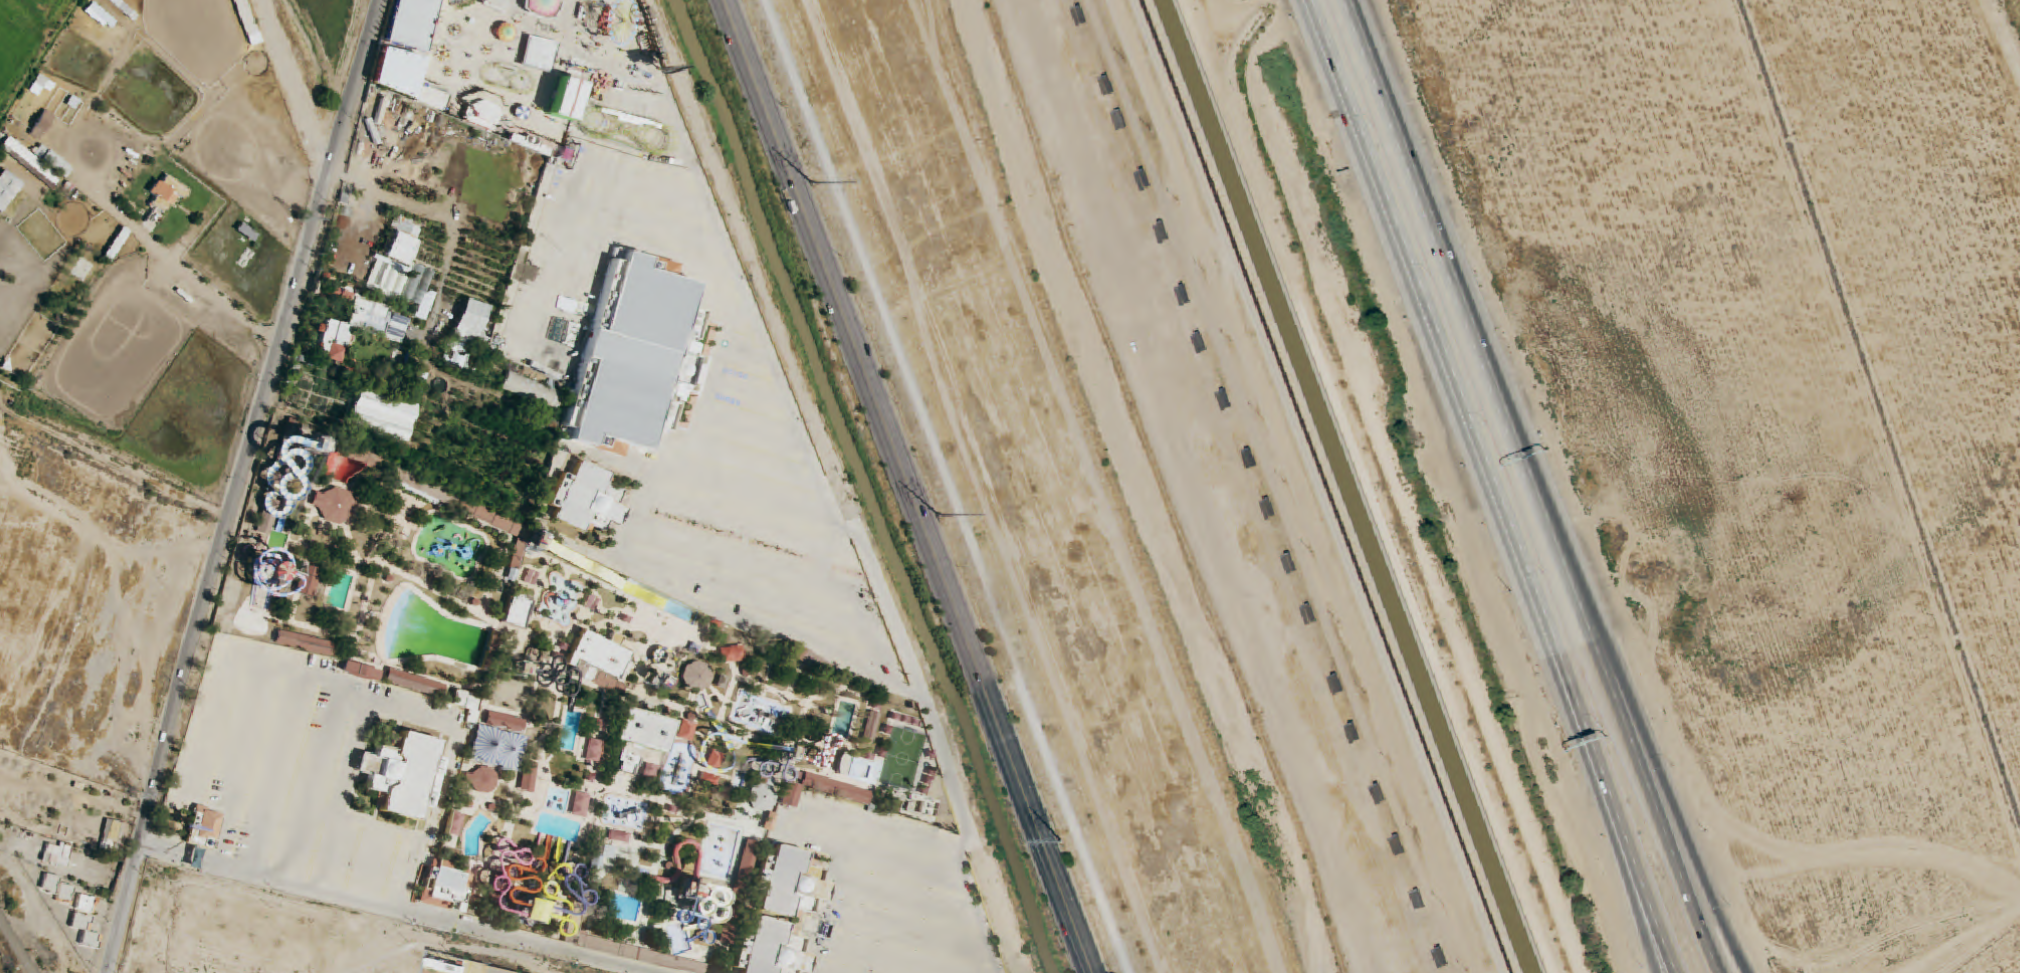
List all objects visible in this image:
building: (553, 16)
crop: (328, 24)
building: (409, 24)
road: (549, 36)
crop: (26, 40)
road: (295, 85)
road: (351, 85)
building: (564, 103)
power tower: (811, 181)
road: (578, 190)
road: (390, 197)
road: (357, 229)
road: (650, 229)
building: (247, 235)
road: (652, 255)
road: (168, 262)
building: (358, 312)
building: (471, 321)
building: (600, 345)
road: (745, 355)
road: (748, 393)
road: (751, 431)
road: (611, 460)
road: (112, 461)
road: (751, 465)
road: (908, 486)
road: (939, 486)
road: (1493, 486)
river: (1139, 487)
road: (1530, 487)
road: (747, 489)
road: (820, 491)
building: (588, 500)
power tower: (937, 514)
road: (738, 522)
road: (733, 554)
road: (212, 570)
road: (628, 571)
road: (748, 596)
road: (857, 602)
building: (515, 613)
road: (364, 697)
building: (503, 725)
road: (1645, 739)
road: (238, 765)
building: (624, 767)
road: (278, 776)
building: (400, 778)
road: (313, 786)
road: (342, 793)
building: (790, 798)
road: (366, 823)
road: (798, 835)
power tower: (1061, 840)
road: (372, 864)
road: (1633, 891)
road: (907, 897)
road: (393, 908)
road: (994, 908)
road: (825, 912)
building: (778, 916)
building: (523, 918)
road: (909, 933)
road: (447, 956)
road: (889, 958)
road: (814, 972)

